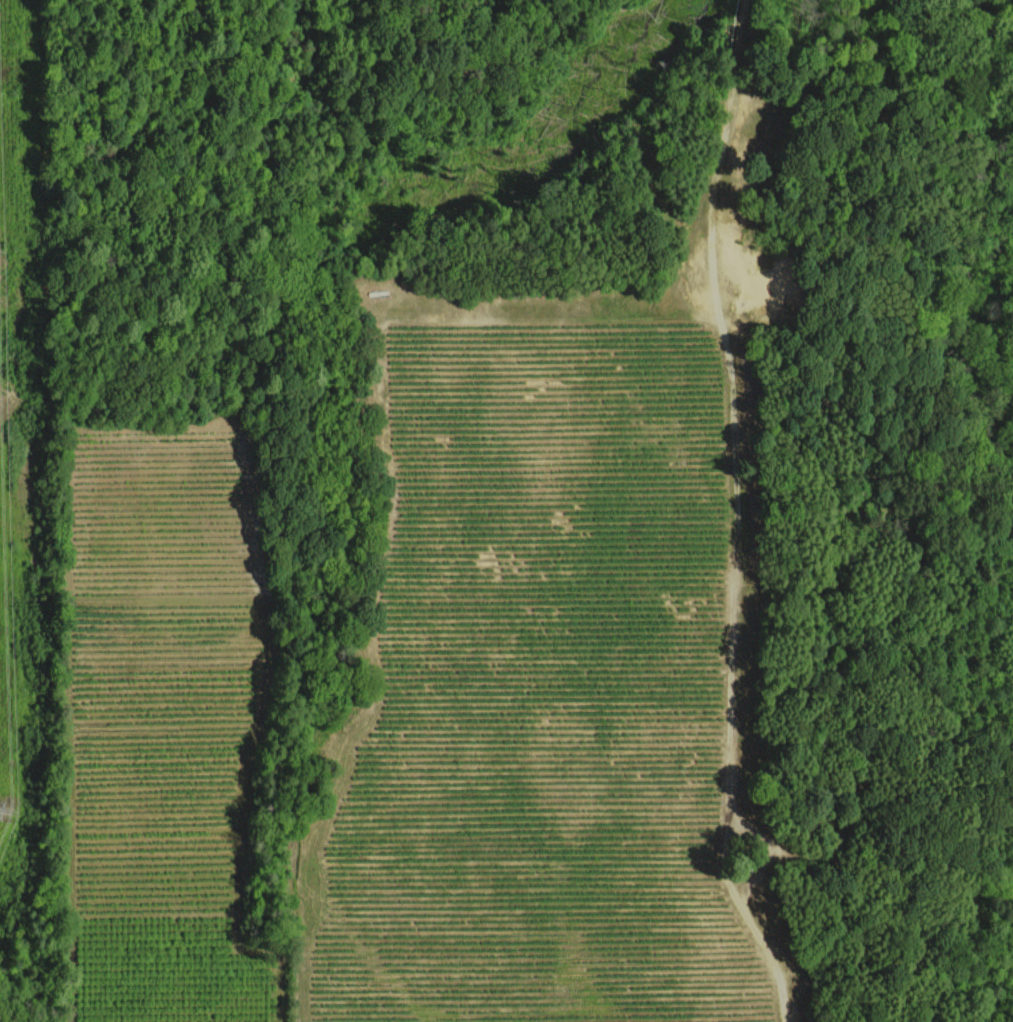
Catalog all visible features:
power tower: (0, 809)

